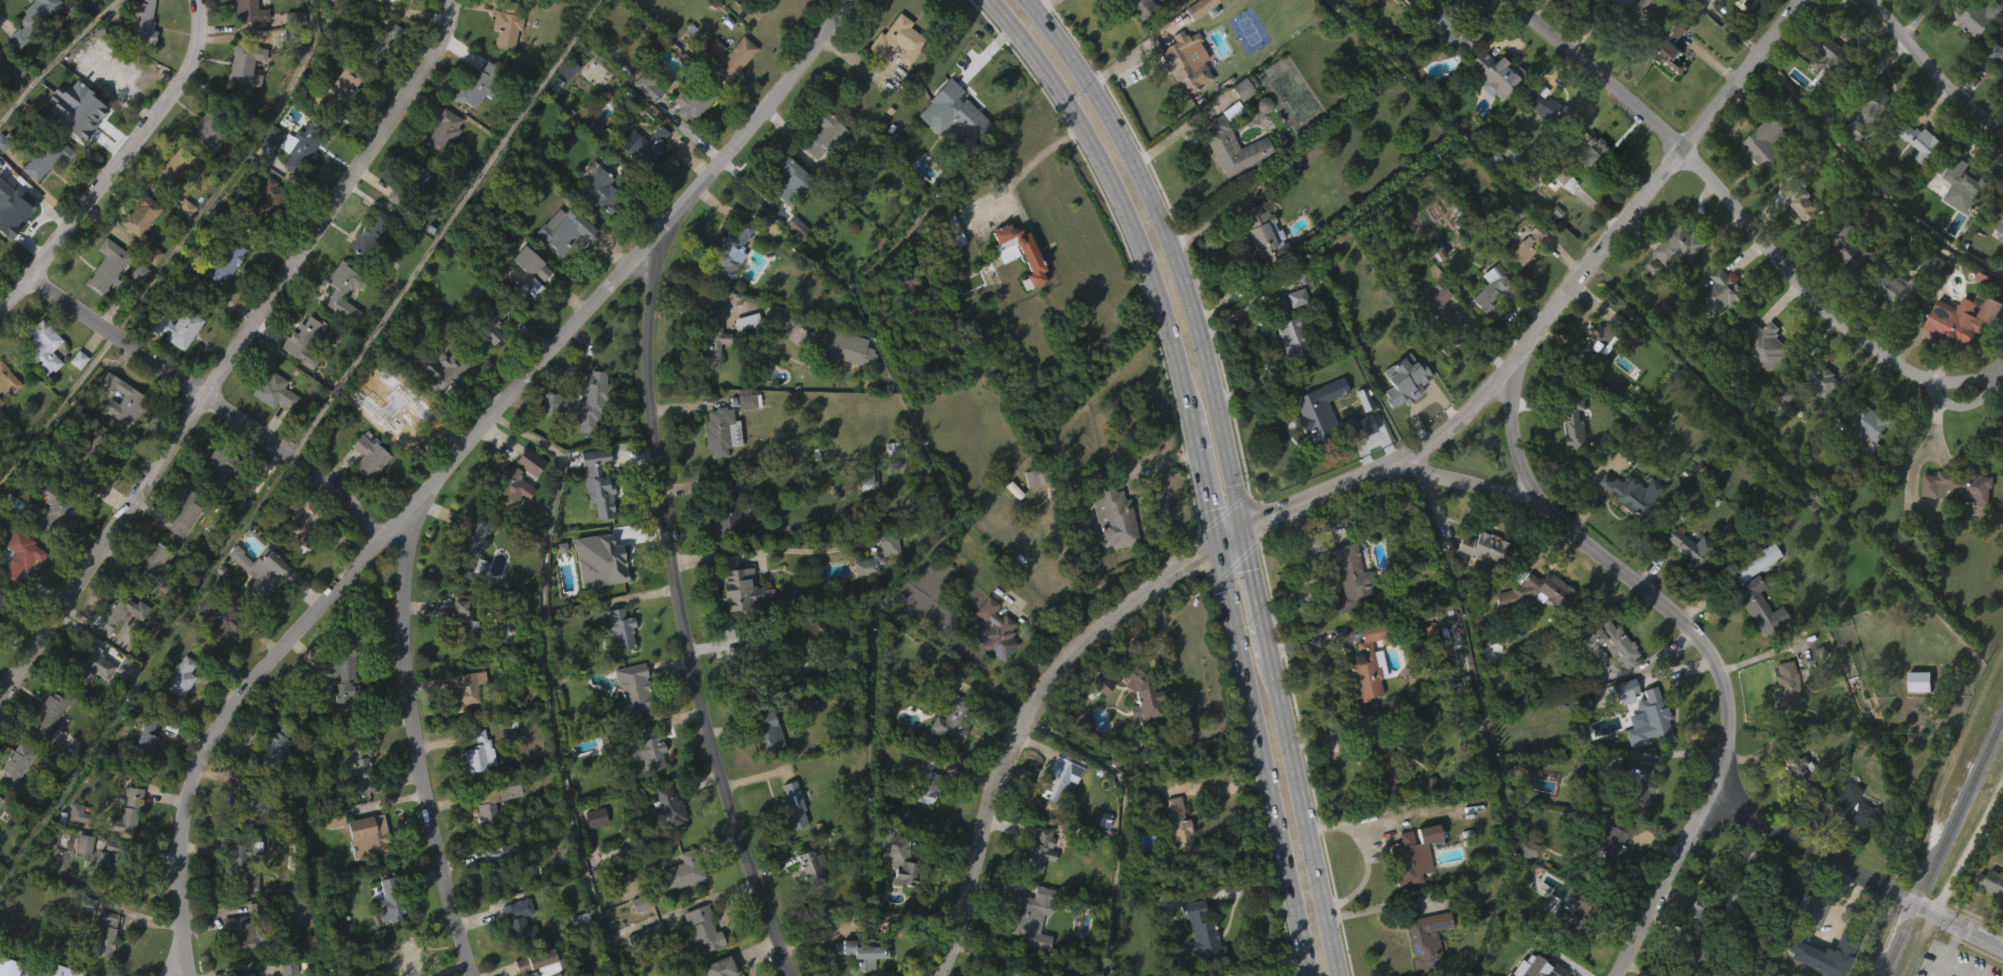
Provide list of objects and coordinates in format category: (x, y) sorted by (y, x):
building: (99, 0)
building: (1368, 0)
building: (1584, 0)
building: (226, 1)
building: (339, 1)
building: (1710, 1)
building: (1412, 2)
building: (496, 3)
road: (1044, 3)
building: (114, 4)
building: (1914, 5)
building: (63, 6)
building: (1136, 7)
building: (1196, 8)
building: (1638, 10)
building: (252, 11)
building: (1572, 14)
building: (388, 16)
building: (1965, 18)
building: (34, 19)
building: (142, 22)
building: (1400, 22)
building: (509, 23)
building: (331, 26)
road: (1728, 26)
building: (1451, 30)
building: (246, 35)
building: (1200, 35)
building: (379, 41)
building: (899, 41)
building: (1629, 47)
building: (31, 48)
building: (290, 50)
building: (1970, 50)
road: (1133, 52)
building: (1995, 53)
building: (138, 54)
building: (1671, 55)
road: (53, 56)
building: (729, 56)
building: (0, 57)
building: (502, 61)
building: (1830, 61)
road: (975, 62)
building: (246, 65)
building: (1449, 65)
building: (2002, 66)
building: (107, 67)
building: (2002, 71)
road: (1929, 72)
building: (893, 73)
building: (375, 76)
building: (1493, 76)
building: (647, 83)
building: (1666, 83)
building: (481, 86)
building: (1241, 88)
building: (726, 89)
building: (1995, 89)
building: (338, 91)
building: (1822, 91)
building: (0, 92)
building: (1183, 95)
building: (242, 99)
building: (692, 100)
building: (103, 101)
building: (1879, 102)
building: (566, 103)
building: (79, 107)
building: (1490, 107)
building: (1543, 108)
building: (475, 117)
building: (1238, 122)
building: (333, 125)
building: (212, 127)
building: (32, 132)
building: (443, 133)
road: (1176, 133)
building: (689, 134)
building: (828, 136)
building: (1259, 137)
building: (80, 140)
building: (1543, 140)
building: (644, 142)
building: (1768, 142)
building: (1920, 143)
building: (1867, 148)
building: (1231, 149)
building: (1595, 153)
building: (959, 156)
building: (46, 158)
road: (1031, 162)
road: (121, 163)
building: (438, 165)
building: (205, 167)
building: (270, 169)
building: (820, 169)
building: (178, 170)
building: (1918, 175)
building: (1763, 176)
building: (641, 179)
building: (297, 180)
building: (788, 181)
building: (1231, 182)
building: (411, 183)
building: (1505, 184)
building: (1594, 186)
building: (1965, 187)
road: (1119, 190)
building: (44, 191)
building: (176, 200)
road: (1724, 200)
building: (1799, 202)
building: (264, 206)
building: (790, 208)
building: (1560, 213)
building: (142, 215)
building: (415, 215)
building: (595, 219)
building: (1960, 220)
building: (776, 225)
building: (2002, 228)
building: (264, 232)
building: (567, 232)
building: (1261, 233)
building: (370, 235)
building: (183, 241)
building: (12, 242)
building: (1853, 245)
building: (137, 248)
road: (1172, 248)
building: (1525, 248)
building: (733, 251)
building: (1676, 251)
building: (1019, 253)
building: (791, 259)
building: (2000, 260)
building: (560, 262)
building: (370, 263)
building: (948, 264)
building: (109, 265)
building: (224, 265)
building: (1260, 266)
road: (410, 270)
building: (1526, 277)
building: (528, 282)
building: (905, 282)
building: (1433, 283)
building: (1670, 283)
building: (1849, 283)
building: (727, 285)
building: (1015, 285)
building: (1494, 286)
building: (149, 288)
building: (1896, 288)
building: (344, 289)
building: (1723, 292)
building: (1296, 296)
building: (221, 297)
building: (1932, 297)
building: (103, 299)
building: (137, 305)
building: (185, 305)
road: (1556, 305)
building: (525, 313)
building: (1965, 317)
building: (495, 320)
building: (1446, 321)
building: (1489, 321)
building: (1893, 321)
building: (339, 324)
building: (1720, 325)
building: (178, 326)
building: (1287, 328)
building: (1602, 338)
building: (304, 340)
building: (1987, 343)
building: (1764, 344)
building: (1442, 345)
building: (45, 346)
building: (713, 347)
road: (233, 353)
building: (743, 354)
building: (1951, 354)
building: (173, 361)
building: (486, 362)
building: (1284, 363)
building: (445, 369)
building: (301, 374)
building: (1598, 374)
building: (39, 378)
building: (1404, 378)
building: (1760, 378)
building: (1820, 378)
road: (1977, 378)
building: (8, 379)
building: (843, 381)
building: (397, 390)
building: (276, 391)
building: (75, 392)
building: (1783, 395)
road: (207, 398)
building: (749, 398)
building: (584, 399)
building: (123, 400)
road: (504, 402)
building: (0, 403)
building: (440, 404)
road: (56, 405)
building: (1312, 410)
building: (1817, 412)
building: (1400, 413)
building: (412, 416)
building: (1867, 422)
building: (1575, 423)
building: (271, 424)
building: (719, 431)
road: (1933, 432)
building: (119, 433)
building: (578, 434)
building: (742, 434)
road: (1517, 434)
building: (1311, 444)
building: (406, 450)
building: (1572, 453)
building: (369, 455)
building: (1867, 455)
building: (92, 458)
building: (220, 464)
building: (714, 464)
building: (730, 466)
road: (1202, 474)
building: (868, 478)
building: (599, 480)
building: (2002, 480)
building: (509, 481)
building: (1956, 485)
building: (88, 487)
building: (365, 489)
building: (1630, 492)
building: (526, 494)
building: (214, 500)
building: (54, 505)
building: (730, 505)
traffic signals: (1209, 507)
building: (1030, 510)
building: (865, 511)
building: (1115, 511)
building: (184, 513)
building: (594, 515)
traffic signals: (1259, 515)
building: (1954, 519)
building: (509, 521)
building: (305, 524)
building: (1626, 525)
road: (1230, 533)
building: (240, 535)
building: (725, 537)
building: (51, 544)
building: (889, 544)
building: (1482, 546)
building: (1689, 547)
building: (178, 549)
building: (1109, 550)
building: (475, 552)
building: (19, 553)
traffic signals: (1195, 556)
building: (301, 557)
building: (151, 560)
traffic signals: (1251, 566)
building: (270, 573)
building: (1350, 576)
building: (885, 577)
building: (1684, 579)
building: (470, 580)
building: (1479, 580)
road: (1209, 584)
building: (743, 588)
building: (150, 591)
road: (1256, 591)
building: (1536, 591)
building: (861, 599)
building: (4, 602)
building: (260, 603)
road: (681, 605)
building: (1349, 608)
building: (1757, 608)
building: (122, 611)
building: (220, 616)
building: (463, 618)
building: (738, 618)
building: (1531, 624)
building: (2, 628)
building: (619, 628)
building: (999, 630)
building: (1752, 634)
road: (1699, 640)
building: (1609, 641)
building: (108, 649)
building: (460, 649)
building: (212, 650)
building: (758, 652)
building: (1367, 660)
building: (617, 661)
building: (89, 663)
building: (992, 663)
building: (1426, 664)
building: (341, 673)
building: (760, 673)
building: (183, 676)
road: (538, 683)
building: (1627, 683)
building: (1785, 685)
building: (468, 687)
building: (635, 687)
building: (88, 696)
building: (1363, 696)
building: (1146, 698)
building: (124, 700)
building: (336, 709)
building: (178, 710)
building: (1916, 714)
building: (48, 716)
building: (956, 716)
building: (1097, 716)
building: (1649, 716)
road: (1017, 718)
building: (1782, 719)
building: (463, 721)
building: (630, 721)
building: (1620, 724)
building: (1139, 730)
building: (769, 733)
building: (146, 737)
road: (415, 740)
building: (276, 747)
building: (43, 748)
building: (651, 749)
building: (479, 750)
building: (947, 751)
building: (1645, 751)
building: (1084, 756)
road: (1267, 758)
building: (1381, 759)
building: (765, 764)
building: (358, 766)
building: (1582, 766)
building: (1798, 772)
building: (1056, 776)
building: (138, 778)
building: (270, 780)
building: (475, 782)
building: (646, 782)
building: (929, 783)
road: (1221, 788)
building: (1635, 790)
building: (1, 799)
building: (255, 799)
building: (355, 799)
building: (1380, 799)
building: (496, 800)
building: (792, 805)
building: (1795, 806)
building: (1854, 807)
building: (1056, 808)
building: (129, 812)
building: (923, 815)
road: (1120, 816)
road: (1304, 817)
building: (1635, 820)
building: (491, 832)
building: (367, 833)
building: (1183, 836)
building: (665, 837)
building: (254, 838)
building: (789, 839)
building: (1850, 840)
building: (82, 844)
building: (124, 844)
railway: (1941, 845)
building: (1041, 850)
building: (1607, 851)
building: (331, 852)
building: (1413, 853)
building: (897, 857)
building: (1176, 862)
building: (507, 863)
building: (811, 863)
building: (242, 866)
building: (363, 868)
road: (1849, 869)
building: (113, 870)
building: (682, 872)
building: (1607, 876)
building: (257, 877)
building: (1991, 882)
building: (83, 883)
building: (1035, 883)
building: (500, 884)
building: (1408, 887)
building: (892, 891)
building: (104, 895)
building: (1728, 895)
building: (806, 897)
road: (182, 898)
building: (388, 898)
building: (237, 901)
building: (679, 903)
building: (266, 907)
building: (1802, 908)
building: (1032, 916)
building: (1988, 916)
building: (1570, 918)
building: (520, 922)
building: (704, 929)
building: (244, 933)
building: (386, 933)
building: (1707, 933)
building: (102, 934)
building: (637, 935)
building: (1203, 935)
building: (83, 937)
building: (1424, 939)
building: (1800, 941)
building: (1571, 945)
building: (1026, 947)
building: (576, 952)
building: (515, 953)
building: (864, 954)
road: (187, 955)
building: (1822, 955)
building: (1195, 956)
building: (1691, 957)
building: (404, 959)
building: (697, 959)
road: (1942, 959)
building: (103, 960)
building: (540, 963)
building: (648, 964)
building: (9, 967)
building: (719, 967)
road: (1938, 967)
building: (1544, 968)
building: (57, 970)
building: (1012, 970)
building: (246, 974)
building: (862, 974)
building: (1789, 974)

